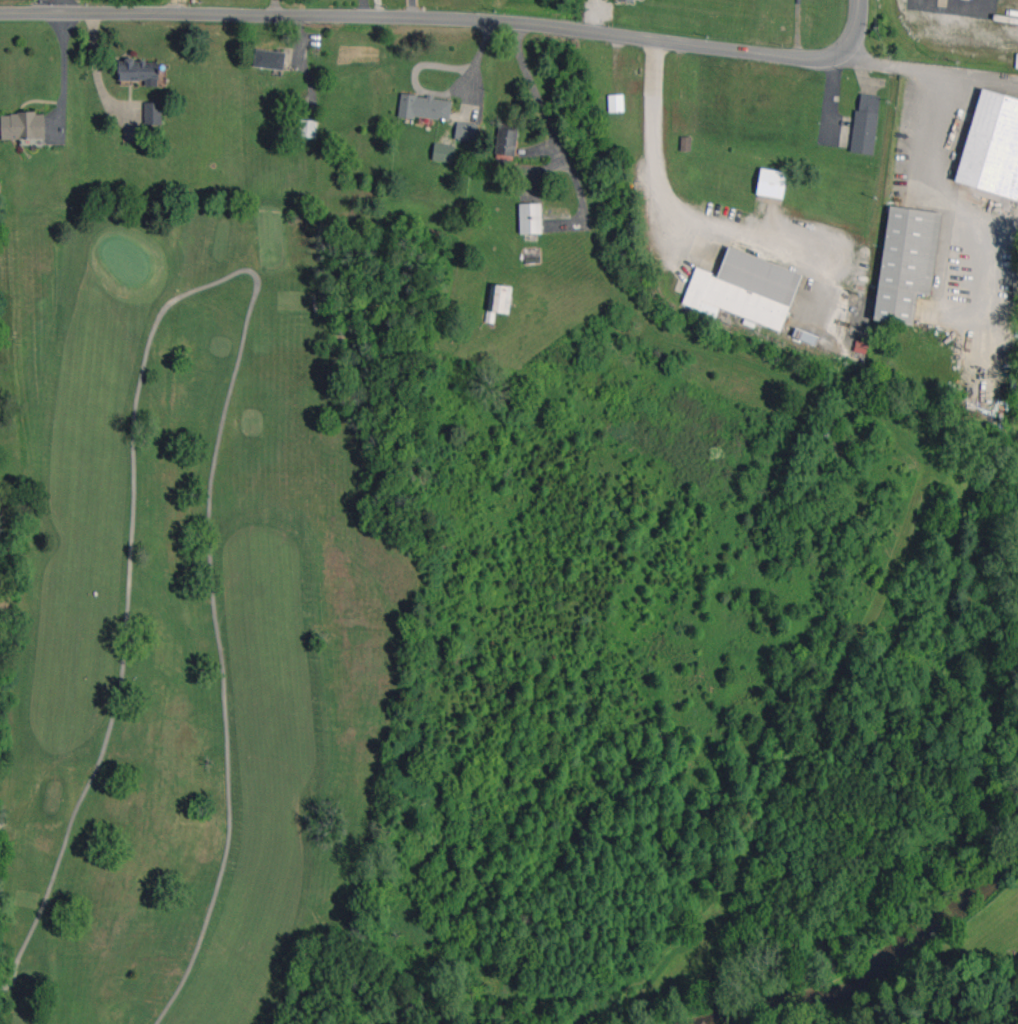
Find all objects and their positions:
building: (628, 0)
road: (55, 5)
road: (380, 7)
road: (451, 16)
road: (866, 57)
building: (270, 59)
building: (139, 71)
building: (616, 102)
road: (542, 105)
building: (425, 107)
building: (153, 113)
building: (865, 123)
building: (22, 125)
building: (307, 128)
building: (466, 131)
building: (506, 142)
building: (992, 146)
building: (443, 152)
building: (771, 183)
road: (947, 191)
road: (665, 206)
building: (530, 218)
park: (125, 260)
building: (906, 262)
building: (744, 289)
building: (498, 300)
park: (183, 611)
river: (882, 985)

